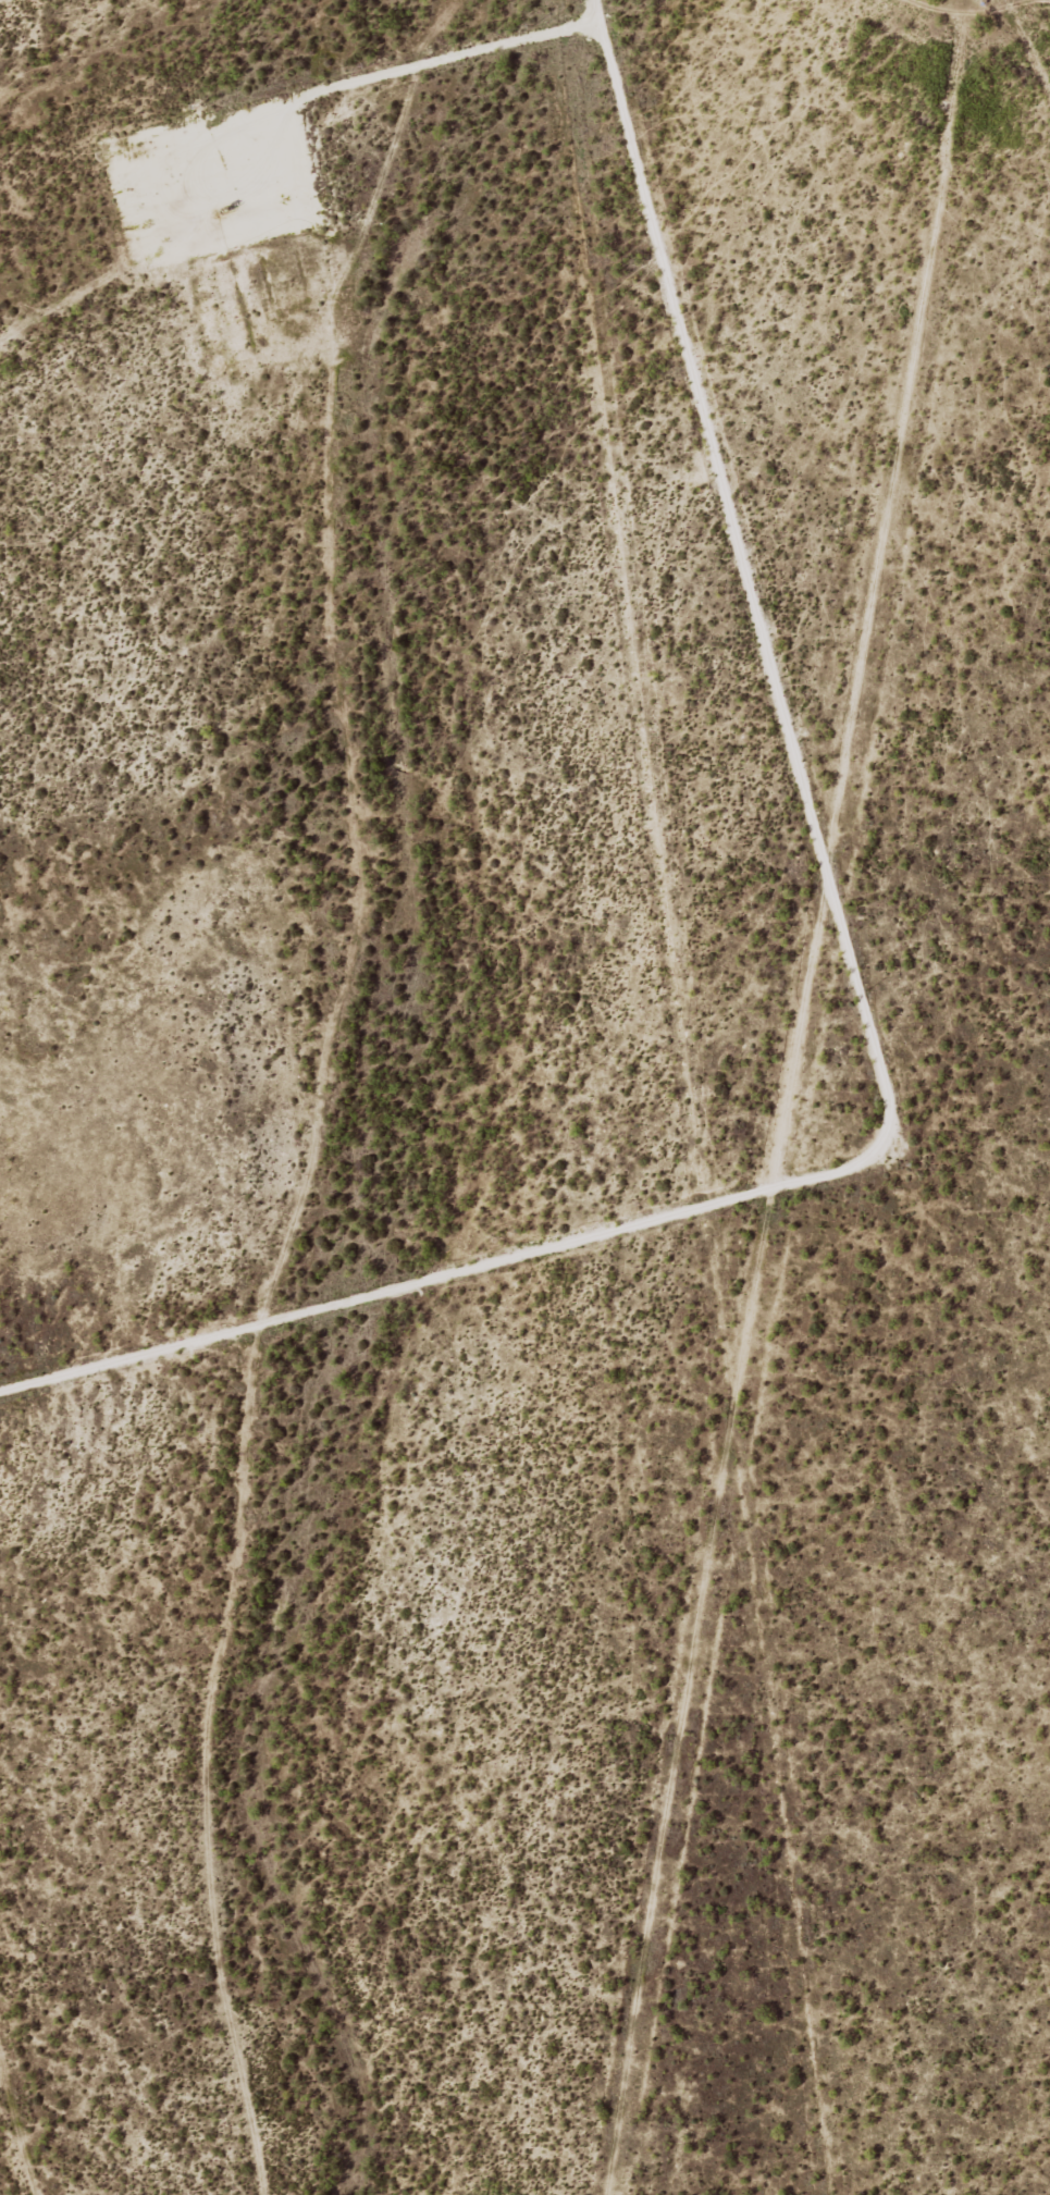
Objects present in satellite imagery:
road: (967, 42)
road: (778, 1118)

